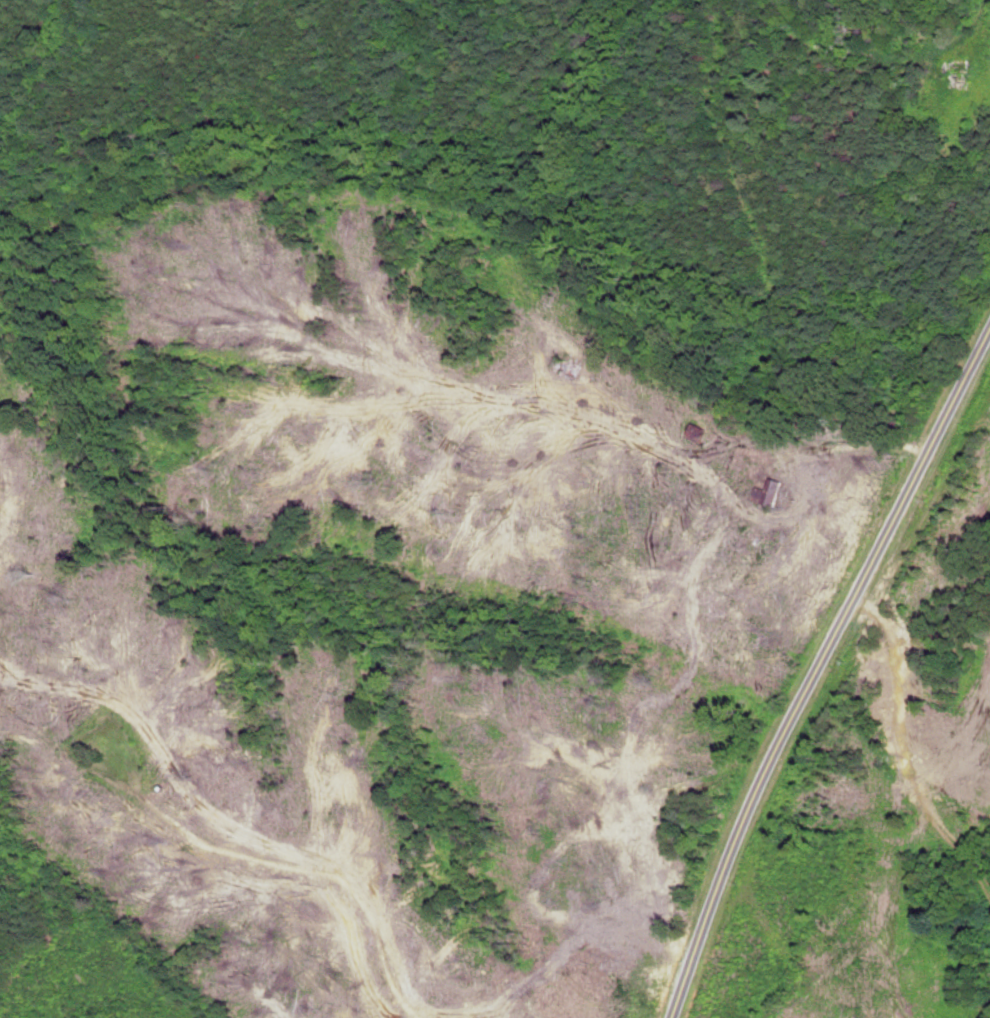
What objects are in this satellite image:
road: (880, 539)
road: (720, 884)

